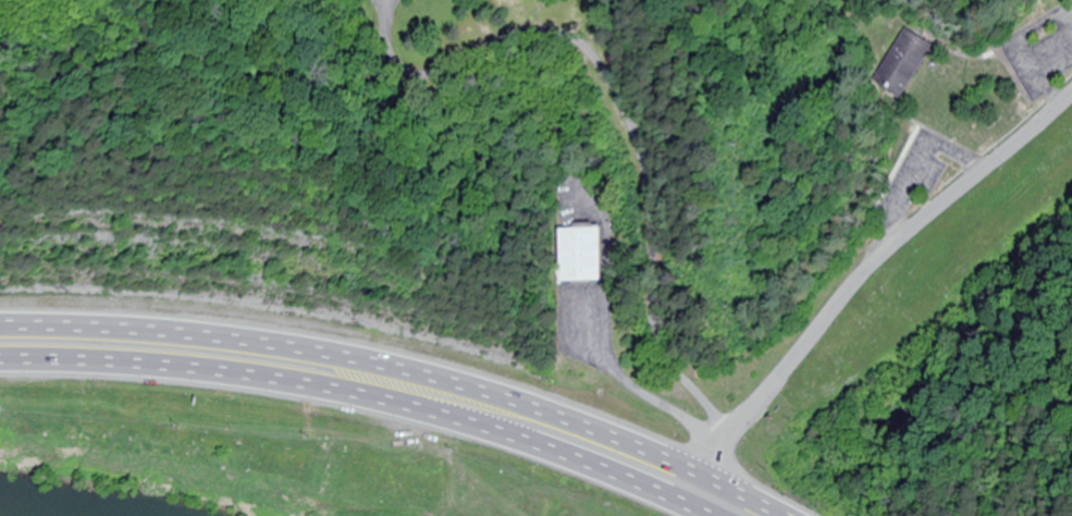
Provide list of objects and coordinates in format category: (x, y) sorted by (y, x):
building: (416, 0)
building: (905, 63)
road: (625, 109)
building: (581, 255)
road: (855, 279)
road: (403, 370)
road: (364, 396)

